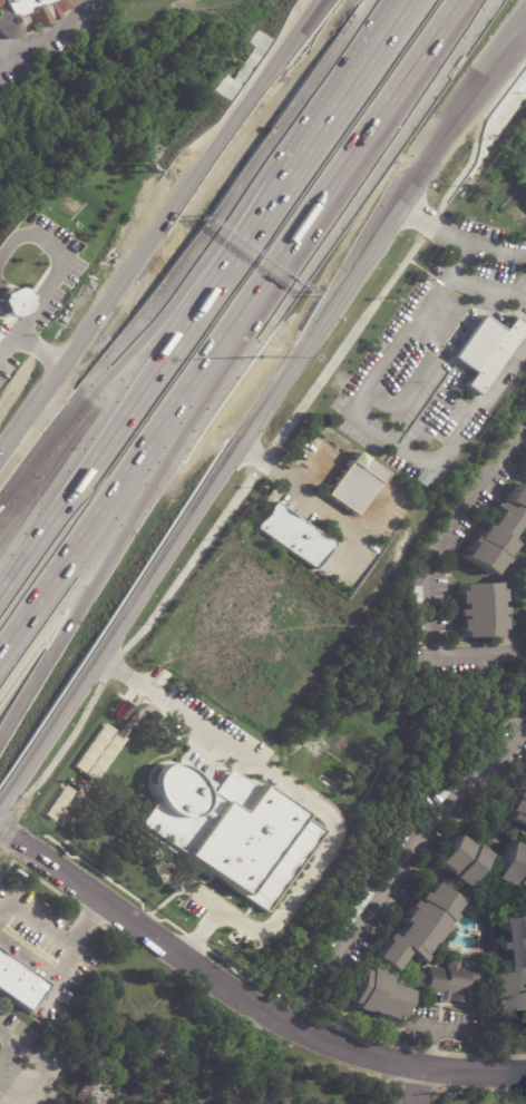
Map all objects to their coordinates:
building: (28, 14)
road: (45, 36)
road: (8, 50)
road: (481, 84)
road: (335, 101)
road: (352, 155)
road: (412, 182)
road: (431, 224)
road: (158, 234)
road: (497, 245)
road: (227, 251)
road: (57, 262)
road: (485, 286)
building: (9, 302)
road: (30, 342)
building: (487, 351)
road: (90, 395)
road: (430, 418)
road: (369, 428)
road: (95, 437)
road: (309, 468)
building: (525, 471)
building: (355, 483)
road: (120, 488)
road: (300, 490)
road: (193, 514)
road: (123, 525)
road: (364, 531)
building: (498, 535)
building: (293, 536)
road: (426, 569)
building: (480, 609)
building: (415, 610)
building: (460, 778)
road: (312, 804)
building: (519, 813)
building: (227, 830)
building: (464, 859)
building: (514, 863)
road: (403, 873)
building: (360, 905)
road: (35, 921)
road: (84, 921)
building: (420, 927)
road: (39, 960)
building: (510, 968)
road: (201, 969)
building: (450, 980)
building: (19, 983)
building: (377, 995)
building: (50, 1023)
road: (429, 1027)
road: (7, 1052)
road: (43, 1061)
road: (474, 1072)
road: (419, 1085)

